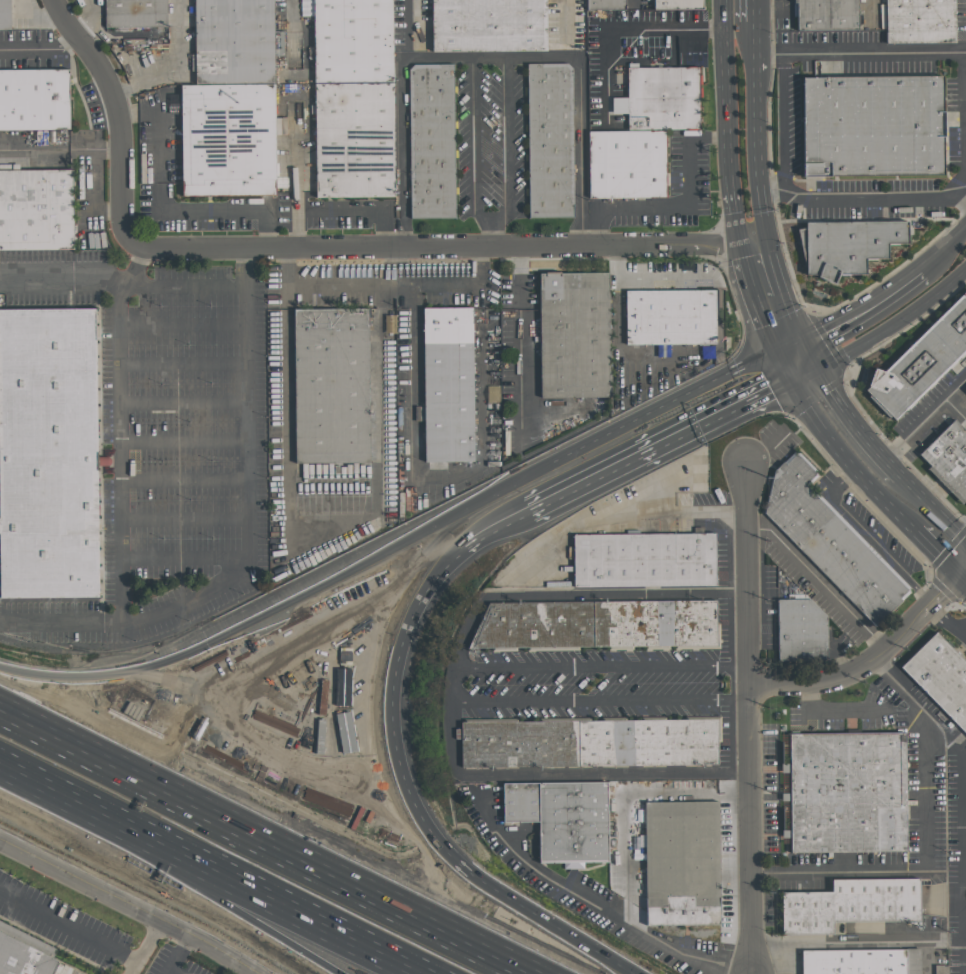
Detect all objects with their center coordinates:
building: (678, 1)
building: (604, 2)
road: (632, 2)
road: (756, 6)
road: (295, 9)
road: (772, 11)
road: (866, 11)
building: (135, 13)
building: (4, 14)
road: (43, 14)
building: (826, 15)
building: (920, 21)
building: (489, 25)
road: (564, 27)
road: (409, 28)
road: (624, 28)
road: (757, 33)
building: (354, 41)
building: (235, 42)
road: (39, 47)
road: (861, 53)
road: (175, 67)
road: (726, 87)
building: (34, 97)
building: (664, 98)
road: (400, 99)
road: (118, 113)
road: (579, 113)
road: (786, 125)
building: (874, 126)
road: (757, 127)
building: (228, 140)
building: (355, 140)
building: (551, 140)
building: (433, 141)
road: (61, 148)
building: (629, 163)
road: (296, 175)
road: (960, 189)
road: (883, 196)
road: (775, 198)
road: (165, 203)
road: (680, 205)
building: (36, 207)
road: (734, 208)
road: (349, 210)
road: (490, 218)
road: (765, 219)
road: (297, 230)
road: (492, 232)
road: (754, 240)
road: (717, 243)
road: (412, 246)
building: (847, 246)
road: (741, 249)
road: (942, 249)
road: (774, 266)
road: (63, 279)
road: (187, 284)
road: (616, 299)
road: (758, 305)
road: (861, 310)
building: (671, 316)
road: (791, 318)
road: (895, 323)
traffic signals: (765, 325)
road: (184, 326)
traffic signals: (827, 332)
building: (575, 334)
road: (521, 345)
road: (788, 348)
road: (809, 355)
building: (921, 363)
road: (184, 367)
road: (784, 367)
road: (805, 374)
building: (448, 384)
building: (333, 385)
traffic signals: (833, 390)
building: (965, 390)
traffic signals: (771, 391)
building: (492, 393)
road: (185, 405)
road: (955, 409)
road: (925, 418)
road: (855, 424)
road: (185, 444)
road: (659, 447)
building: (47, 456)
building: (948, 458)
road: (850, 459)
road: (436, 478)
road: (186, 482)
road: (490, 493)
road: (933, 507)
road: (634, 514)
road: (349, 520)
road: (186, 522)
road: (494, 531)
road: (865, 536)
building: (832, 540)
road: (938, 554)
traffic signals: (938, 554)
road: (187, 561)
building: (644, 561)
road: (963, 579)
road: (817, 581)
road: (943, 591)
traffic signals: (942, 593)
road: (575, 595)
road: (161, 617)
road: (948, 619)
road: (61, 625)
building: (598, 625)
building: (803, 633)
traffic signals: (206, 638)
road: (844, 672)
road: (106, 674)
building: (940, 677)
road: (454, 684)
parking lot: (607, 684)
road: (917, 710)
road: (828, 711)
parking lot: (842, 715)
road: (748, 716)
building: (592, 743)
road: (563, 772)
road: (2, 785)
parking lot: (769, 791)
road: (691, 792)
building: (847, 792)
parking lot: (924, 803)
road: (414, 806)
building: (564, 818)
road: (284, 832)
road: (95, 841)
road: (964, 853)
building: (683, 863)
road: (912, 868)
road: (194, 880)
parking lot: (580, 887)
road: (587, 898)
road: (132, 903)
building: (852, 905)
road: (69, 924)
road: (247, 934)
road: (945, 936)
road: (838, 941)
road: (145, 947)
road: (175, 952)
building: (24, 955)
road: (928, 957)
road: (964, 961)
building: (863, 962)
road: (172, 970)

